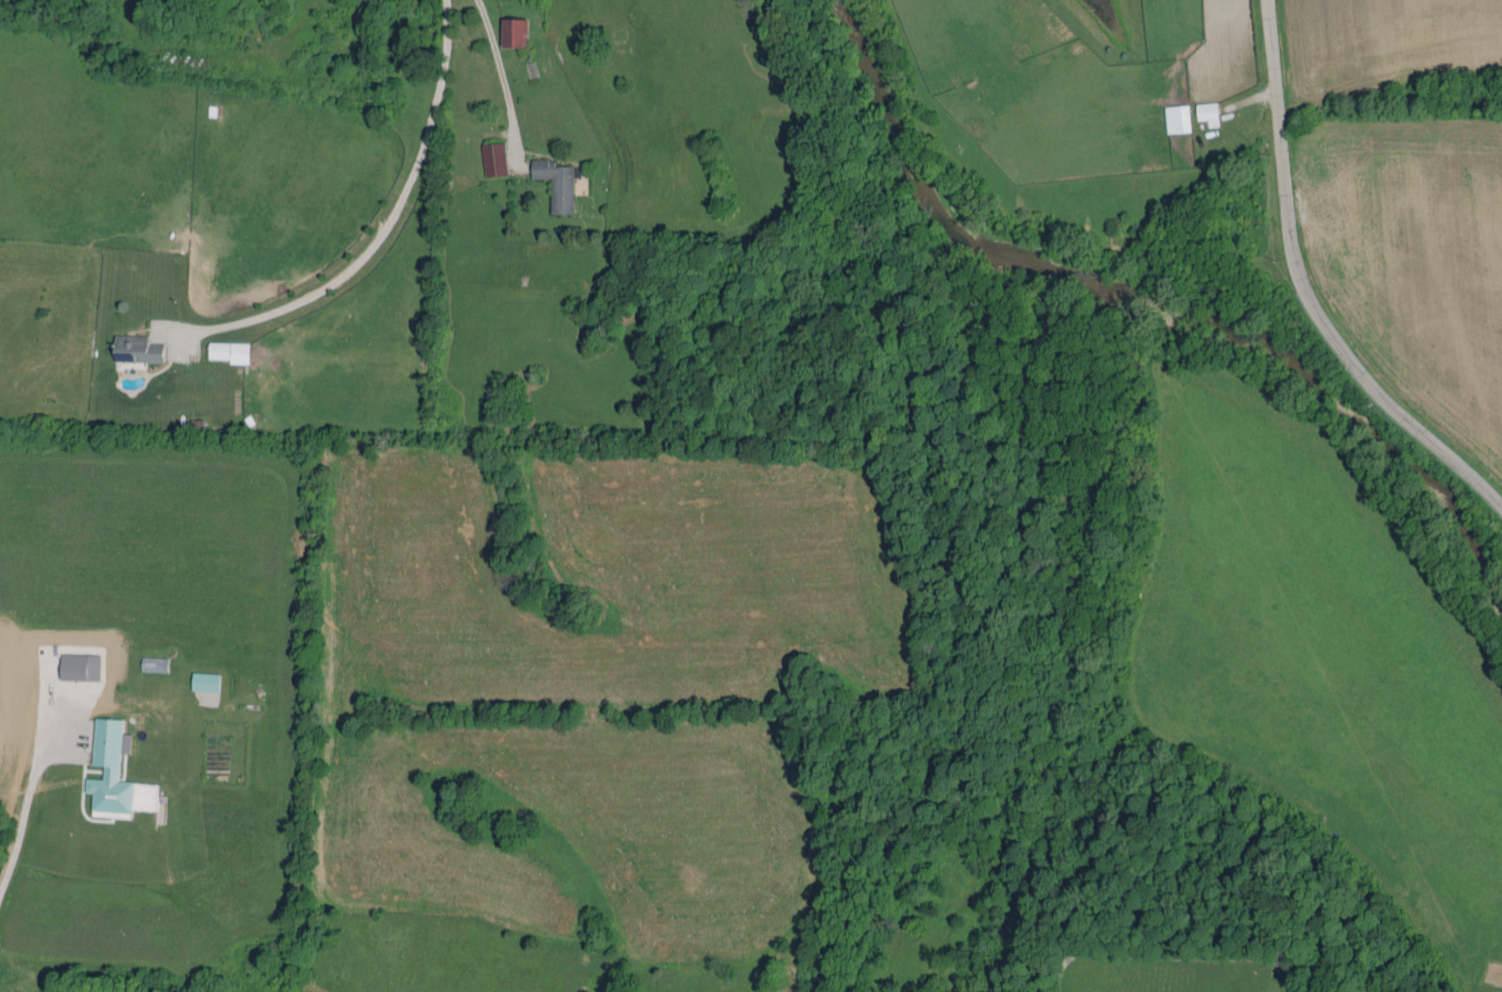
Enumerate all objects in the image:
building: (515, 32)
road: (501, 72)
building: (1208, 113)
building: (1178, 119)
building: (495, 159)
building: (558, 183)
road: (389, 216)
road: (1302, 291)
building: (137, 349)
building: (231, 351)
building: (205, 681)
road: (21, 817)
park: (1164, 970)

